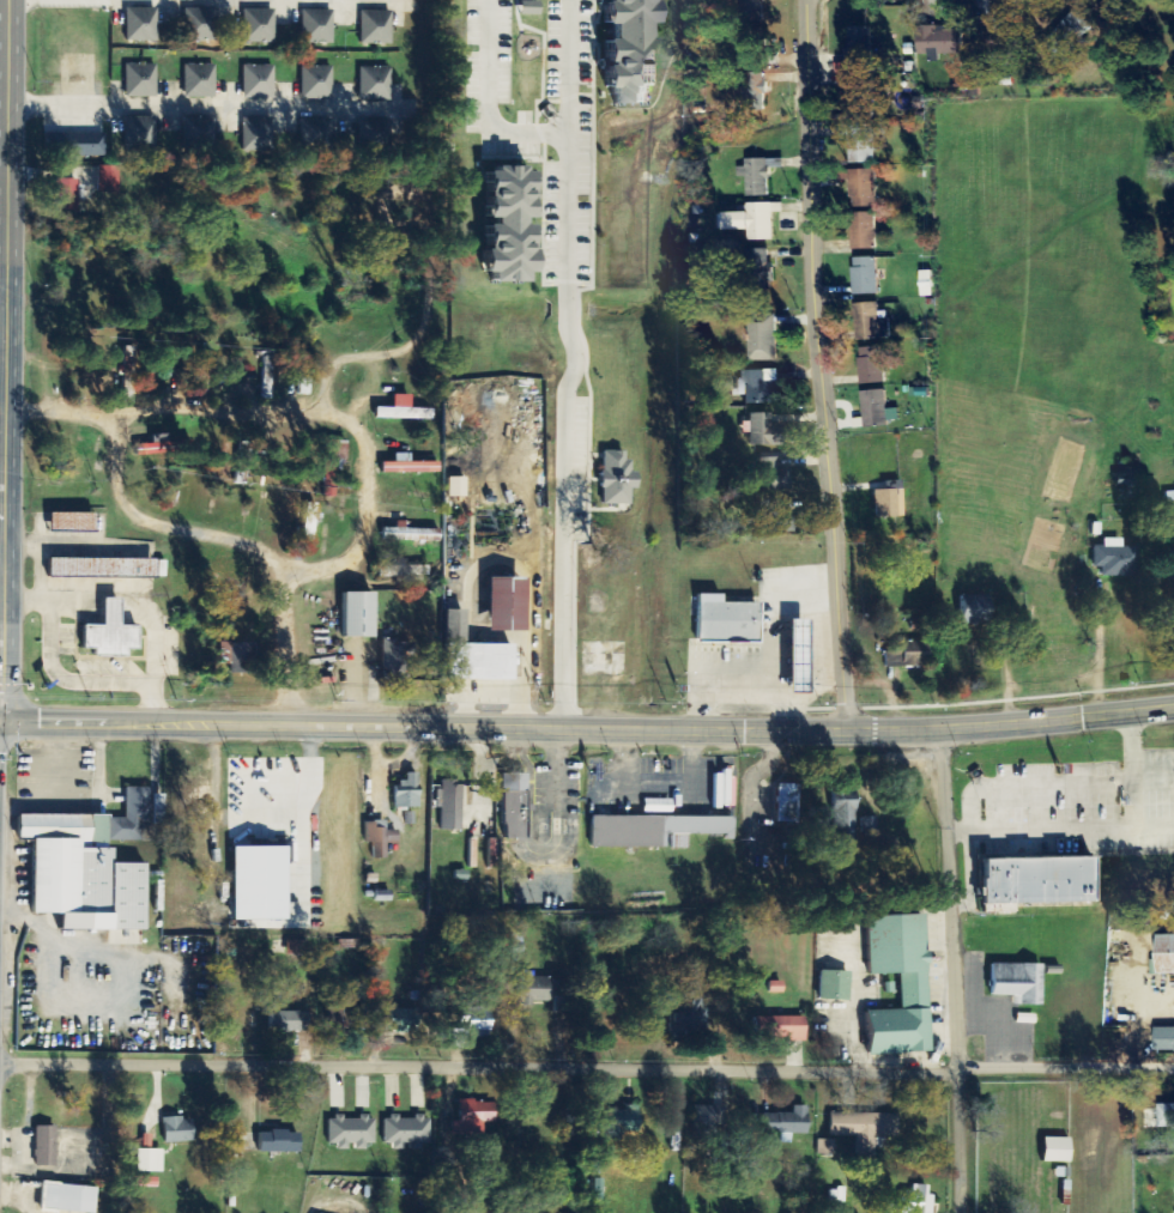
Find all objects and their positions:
building: (749, 6)
building: (529, 7)
building: (131, 20)
building: (144, 20)
building: (187, 22)
building: (202, 23)
building: (248, 23)
building: (262, 23)
building: (307, 24)
building: (321, 24)
building: (364, 24)
building: (380, 25)
building: (1063, 37)
building: (943, 42)
building: (998, 44)
building: (860, 50)
road: (2, 55)
building: (128, 75)
building: (144, 77)
building: (188, 77)
building: (201, 77)
building: (246, 78)
building: (261, 78)
building: (304, 78)
building: (320, 79)
building: (364, 80)
building: (379, 80)
building: (755, 99)
building: (860, 104)
road: (207, 105)
building: (127, 128)
building: (141, 128)
building: (187, 131)
building: (201, 131)
building: (244, 131)
building: (305, 131)
building: (260, 132)
building: (321, 132)
building: (363, 133)
building: (379, 133)
building: (69, 140)
building: (861, 145)
building: (107, 176)
building: (758, 177)
building: (864, 190)
building: (66, 195)
building: (755, 222)
building: (865, 232)
building: (866, 277)
building: (928, 284)
road: (2, 290)
building: (872, 322)
building: (763, 339)
road: (5, 358)
road: (585, 362)
building: (129, 363)
road: (818, 364)
building: (873, 366)
building: (267, 377)
building: (761, 387)
building: (404, 410)
building: (878, 410)
road: (244, 412)
building: (764, 431)
building: (156, 445)
building: (335, 462)
building: (410, 466)
building: (774, 474)
building: (618, 479)
building: (886, 502)
building: (783, 521)
building: (74, 522)
road: (192, 533)
building: (411, 534)
building: (1116, 558)
building: (1172, 563)
building: (103, 568)
building: (404, 571)
building: (508, 605)
building: (976, 608)
building: (359, 614)
building: (727, 620)
building: (111, 633)
road: (282, 638)
building: (476, 655)
building: (908, 655)
building: (238, 656)
building: (801, 657)
gas station: (801, 657)
road: (0, 716)
road: (99, 716)
traffic signals: (1, 717)
road: (0, 718)
road: (685, 726)
building: (407, 793)
building: (788, 803)
building: (450, 805)
building: (659, 806)
building: (516, 815)
building: (869, 827)
building: (654, 830)
building: (380, 837)
building: (84, 875)
building: (1039, 880)
building: (260, 884)
building: (297, 947)
building: (1169, 956)
road: (962, 969)
building: (1018, 983)
building: (901, 984)
building: (835, 985)
building: (535, 990)
building: (343, 1014)
building: (688, 1015)
building: (401, 1020)
building: (289, 1021)
building: (478, 1021)
building: (780, 1029)
building: (1166, 1039)
road: (586, 1069)
building: (1167, 1116)
building: (474, 1117)
building: (624, 1122)
building: (707, 1122)
building: (791, 1122)
building: (864, 1126)
building: (178, 1130)
building: (351, 1132)
building: (407, 1132)
building: (280, 1141)
building: (867, 1145)
building: (46, 1146)
building: (825, 1147)
building: (1058, 1150)
building: (150, 1160)
building: (69, 1199)
building: (916, 1200)

